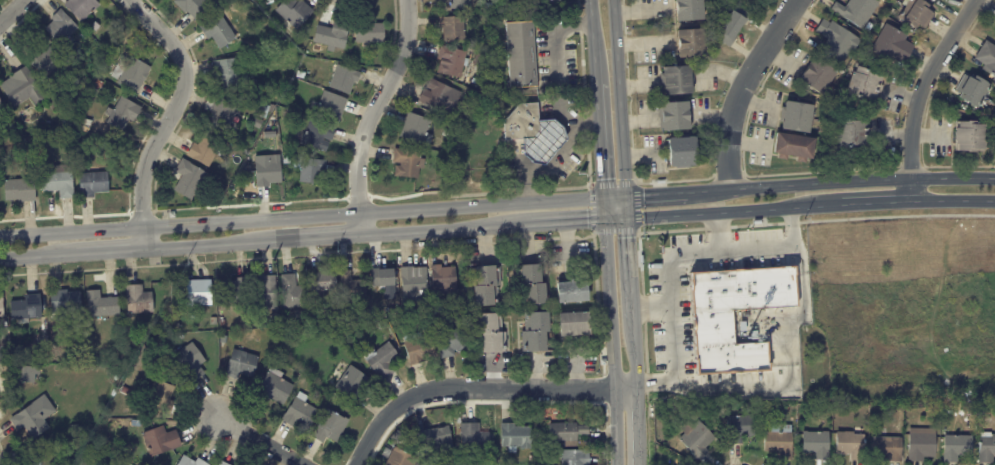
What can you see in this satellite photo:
building: (518, 0)
building: (538, 2)
road: (507, 3)
building: (217, 5)
building: (461, 5)
building: (196, 7)
building: (84, 8)
building: (687, 10)
road: (11, 11)
building: (855, 11)
building: (297, 13)
building: (914, 15)
building: (994, 25)
building: (730, 27)
building: (63, 28)
building: (95, 28)
building: (456, 29)
building: (220, 32)
building: (372, 34)
building: (335, 35)
building: (865, 39)
road: (592, 40)
building: (833, 42)
building: (687, 45)
building: (889, 46)
building: (524, 55)
building: (986, 57)
building: (454, 62)
building: (49, 64)
road: (558, 74)
building: (231, 75)
building: (135, 76)
building: (816, 76)
building: (345, 80)
building: (676, 82)
building: (862, 85)
road: (742, 87)
building: (24, 89)
building: (970, 89)
road: (919, 93)
road: (596, 95)
road: (619, 97)
building: (443, 98)
building: (1, 104)
building: (333, 108)
road: (370, 114)
building: (981, 114)
building: (125, 115)
building: (235, 115)
road: (169, 116)
building: (287, 117)
building: (672, 117)
building: (461, 118)
building: (796, 118)
road: (561, 119)
building: (69, 123)
building: (13, 129)
building: (418, 130)
building: (536, 133)
building: (449, 134)
building: (966, 134)
building: (848, 135)
building: (320, 136)
building: (255, 138)
road: (544, 140)
building: (791, 147)
building: (207, 150)
road: (600, 152)
building: (678, 153)
road: (563, 154)
building: (289, 160)
building: (409, 164)
building: (270, 171)
building: (312, 171)
road: (524, 179)
building: (191, 180)
road: (840, 182)
building: (61, 184)
building: (446, 184)
building: (95, 185)
building: (22, 192)
road: (656, 193)
traffic signals: (626, 195)
traffic signals: (603, 197)
road: (953, 201)
road: (875, 203)
road: (627, 207)
road: (603, 208)
road: (734, 212)
road: (313, 215)
road: (616, 219)
traffic signals: (628, 219)
traffic signals: (604, 220)
road: (555, 223)
road: (432, 230)
road: (715, 233)
building: (778, 234)
road: (312, 238)
road: (205, 246)
road: (105, 252)
road: (33, 257)
road: (673, 263)
road: (631, 273)
building: (386, 276)
building: (444, 280)
building: (325, 281)
building: (415, 282)
building: (536, 284)
building: (491, 285)
building: (354, 286)
building: (236, 290)
building: (200, 292)
building: (574, 292)
building: (266, 293)
building: (295, 293)
building: (141, 300)
building: (66, 302)
building: (2, 305)
building: (104, 305)
road: (653, 305)
building: (29, 307)
building: (368, 312)
building: (303, 321)
building: (223, 323)
building: (578, 324)
building: (712, 327)
building: (301, 331)
building: (540, 331)
building: (91, 332)
building: (496, 332)
building: (225, 339)
building: (454, 341)
road: (611, 342)
building: (421, 348)
building: (133, 351)
road: (635, 359)
building: (384, 362)
building: (191, 363)
building: (244, 364)
building: (26, 373)
building: (352, 384)
building: (276, 387)
road: (478, 388)
building: (126, 391)
building: (162, 396)
building: (978, 412)
building: (301, 413)
building: (969, 413)
building: (33, 420)
building: (460, 420)
building: (121, 427)
building: (331, 427)
road: (637, 428)
building: (739, 428)
building: (567, 432)
building: (518, 437)
building: (438, 438)
building: (476, 438)
building: (695, 440)
building: (161, 441)
road: (261, 442)
building: (778, 442)
building: (814, 444)
building: (919, 444)
building: (849, 445)
building: (954, 447)
building: (984, 447)
building: (885, 448)
building: (576, 457)
building: (402, 458)
building: (533, 458)
building: (35, 459)
building: (187, 461)
building: (220, 463)
building: (224, 463)
building: (449, 464)

